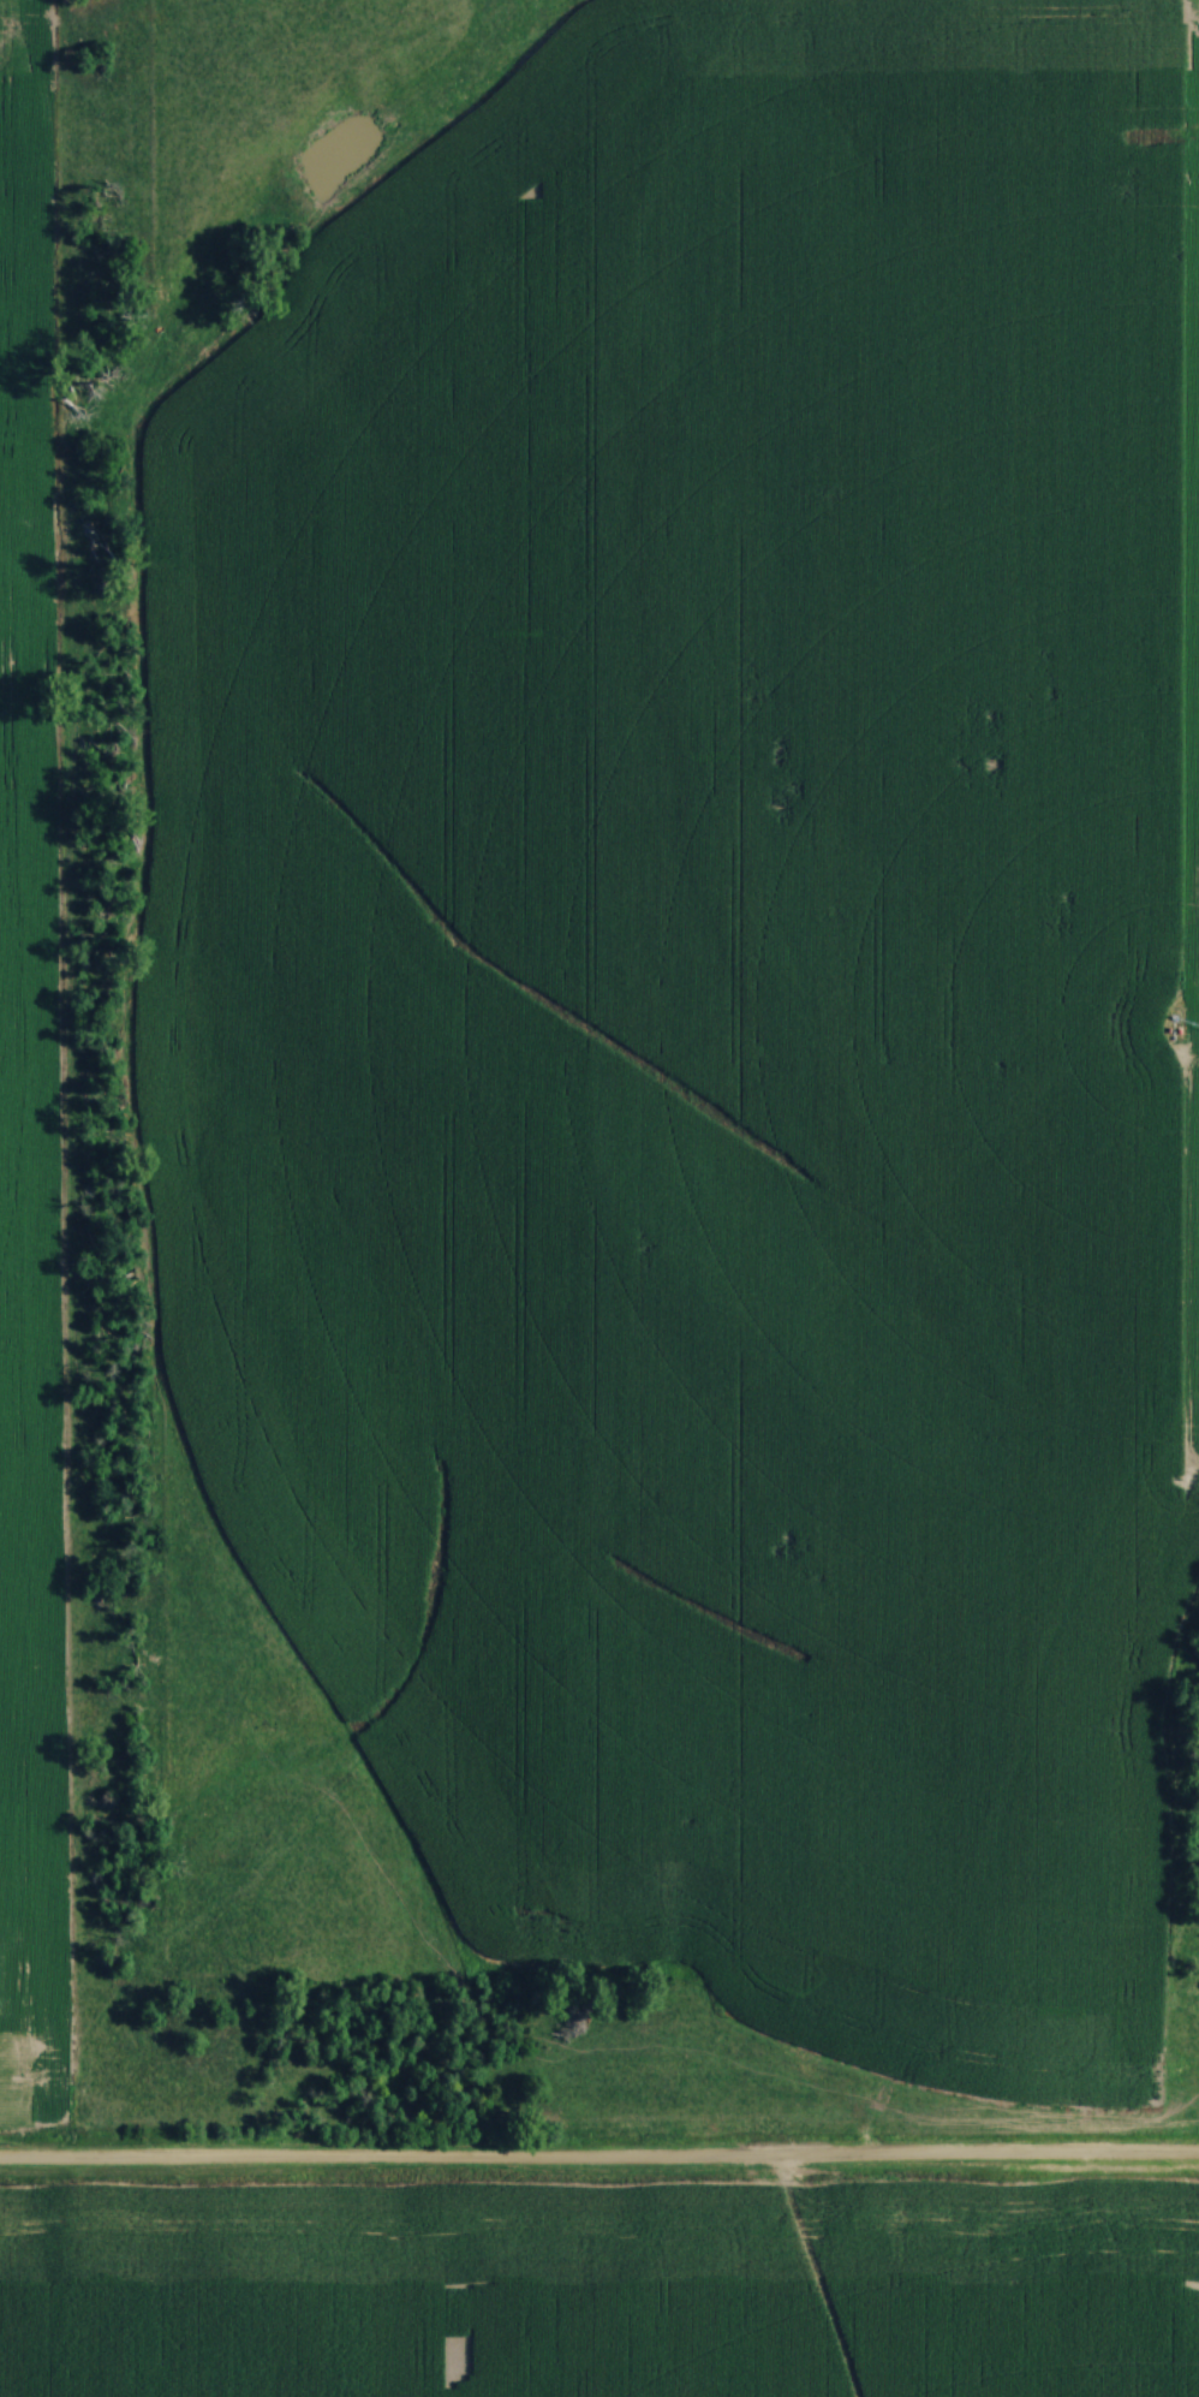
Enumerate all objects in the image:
road: (598, 2161)

